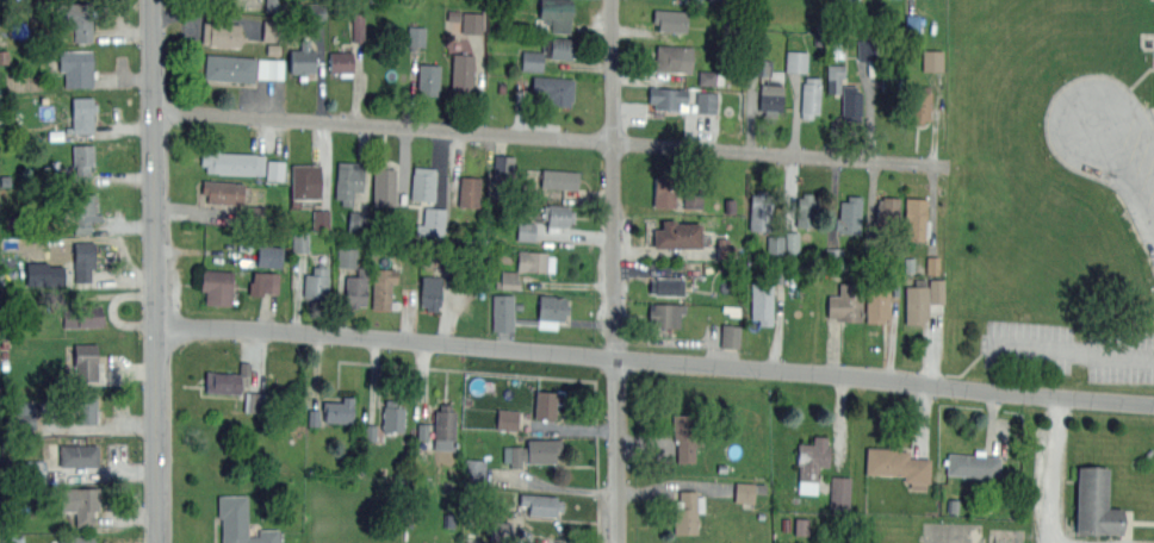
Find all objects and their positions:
building: (271, 5)
building: (556, 13)
building: (670, 19)
building: (79, 23)
building: (472, 23)
building: (912, 23)
building: (269, 30)
building: (221, 33)
building: (416, 36)
building: (558, 46)
building: (671, 57)
building: (302, 60)
building: (532, 61)
building: (795, 61)
building: (932, 61)
building: (340, 62)
building: (76, 67)
building: (229, 67)
building: (762, 67)
building: (269, 69)
building: (461, 71)
building: (427, 77)
building: (706, 77)
building: (554, 88)
building: (808, 95)
building: (666, 96)
building: (770, 96)
building: (706, 102)
building: (851, 102)
building: (918, 104)
building: (83, 113)
road: (383, 125)
parking lot: (1106, 141)
road: (781, 151)
building: (82, 161)
building: (231, 161)
building: (504, 164)
building: (275, 170)
road: (1127, 174)
building: (558, 177)
building: (304, 181)
building: (347, 181)
building: (422, 182)
building: (384, 183)
building: (664, 189)
building: (469, 191)
building: (222, 192)
building: (691, 200)
building: (759, 211)
building: (806, 211)
building: (85, 212)
building: (557, 214)
building: (848, 214)
building: (887, 214)
building: (916, 217)
building: (321, 218)
building: (432, 221)
building: (526, 231)
building: (676, 233)
building: (782, 243)
building: (269, 256)
building: (347, 257)
building: (835, 257)
building: (85, 260)
building: (534, 261)
road: (154, 270)
road: (614, 271)
building: (45, 274)
building: (509, 280)
building: (265, 283)
building: (216, 285)
building: (316, 285)
building: (666, 286)
building: (355, 287)
building: (383, 289)
building: (430, 292)
building: (761, 301)
building: (845, 301)
building: (916, 301)
building: (876, 302)
building: (552, 308)
building: (665, 314)
building: (82, 316)
building: (730, 336)
parking lot: (1069, 349)
road: (1077, 350)
building: (85, 360)
road: (654, 361)
building: (225, 382)
building: (545, 402)
building: (87, 406)
building: (337, 410)
building: (392, 416)
building: (25, 419)
building: (508, 419)
building: (443, 426)
building: (424, 431)
building: (684, 436)
building: (533, 451)
building: (77, 454)
building: (811, 463)
building: (898, 464)
building: (974, 466)
building: (474, 468)
road: (1051, 469)
building: (35, 472)
parking lot: (1055, 491)
building: (744, 492)
building: (839, 492)
building: (1094, 501)
building: (81, 504)
building: (540, 504)
building: (687, 511)
building: (240, 522)
building: (801, 526)
building: (501, 531)
building: (76, 538)
building: (15, 539)

